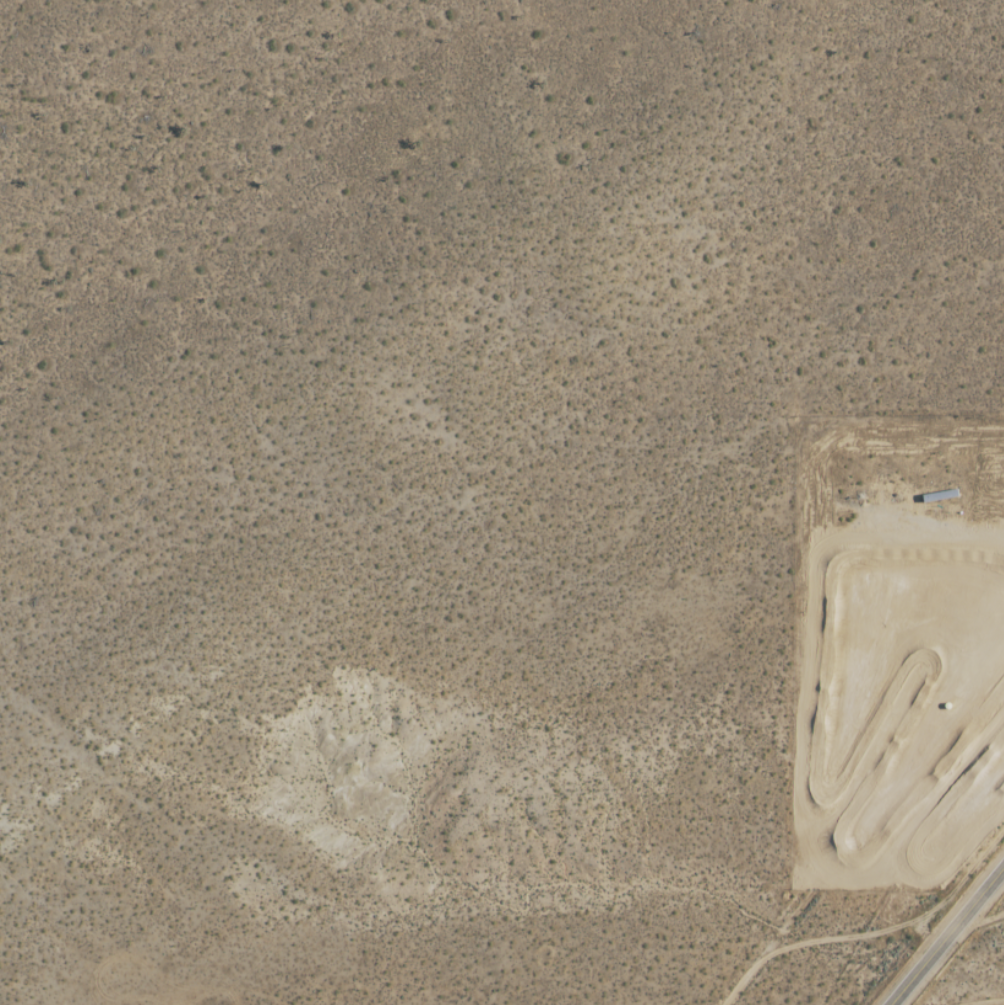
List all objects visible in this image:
road: (948, 937)

